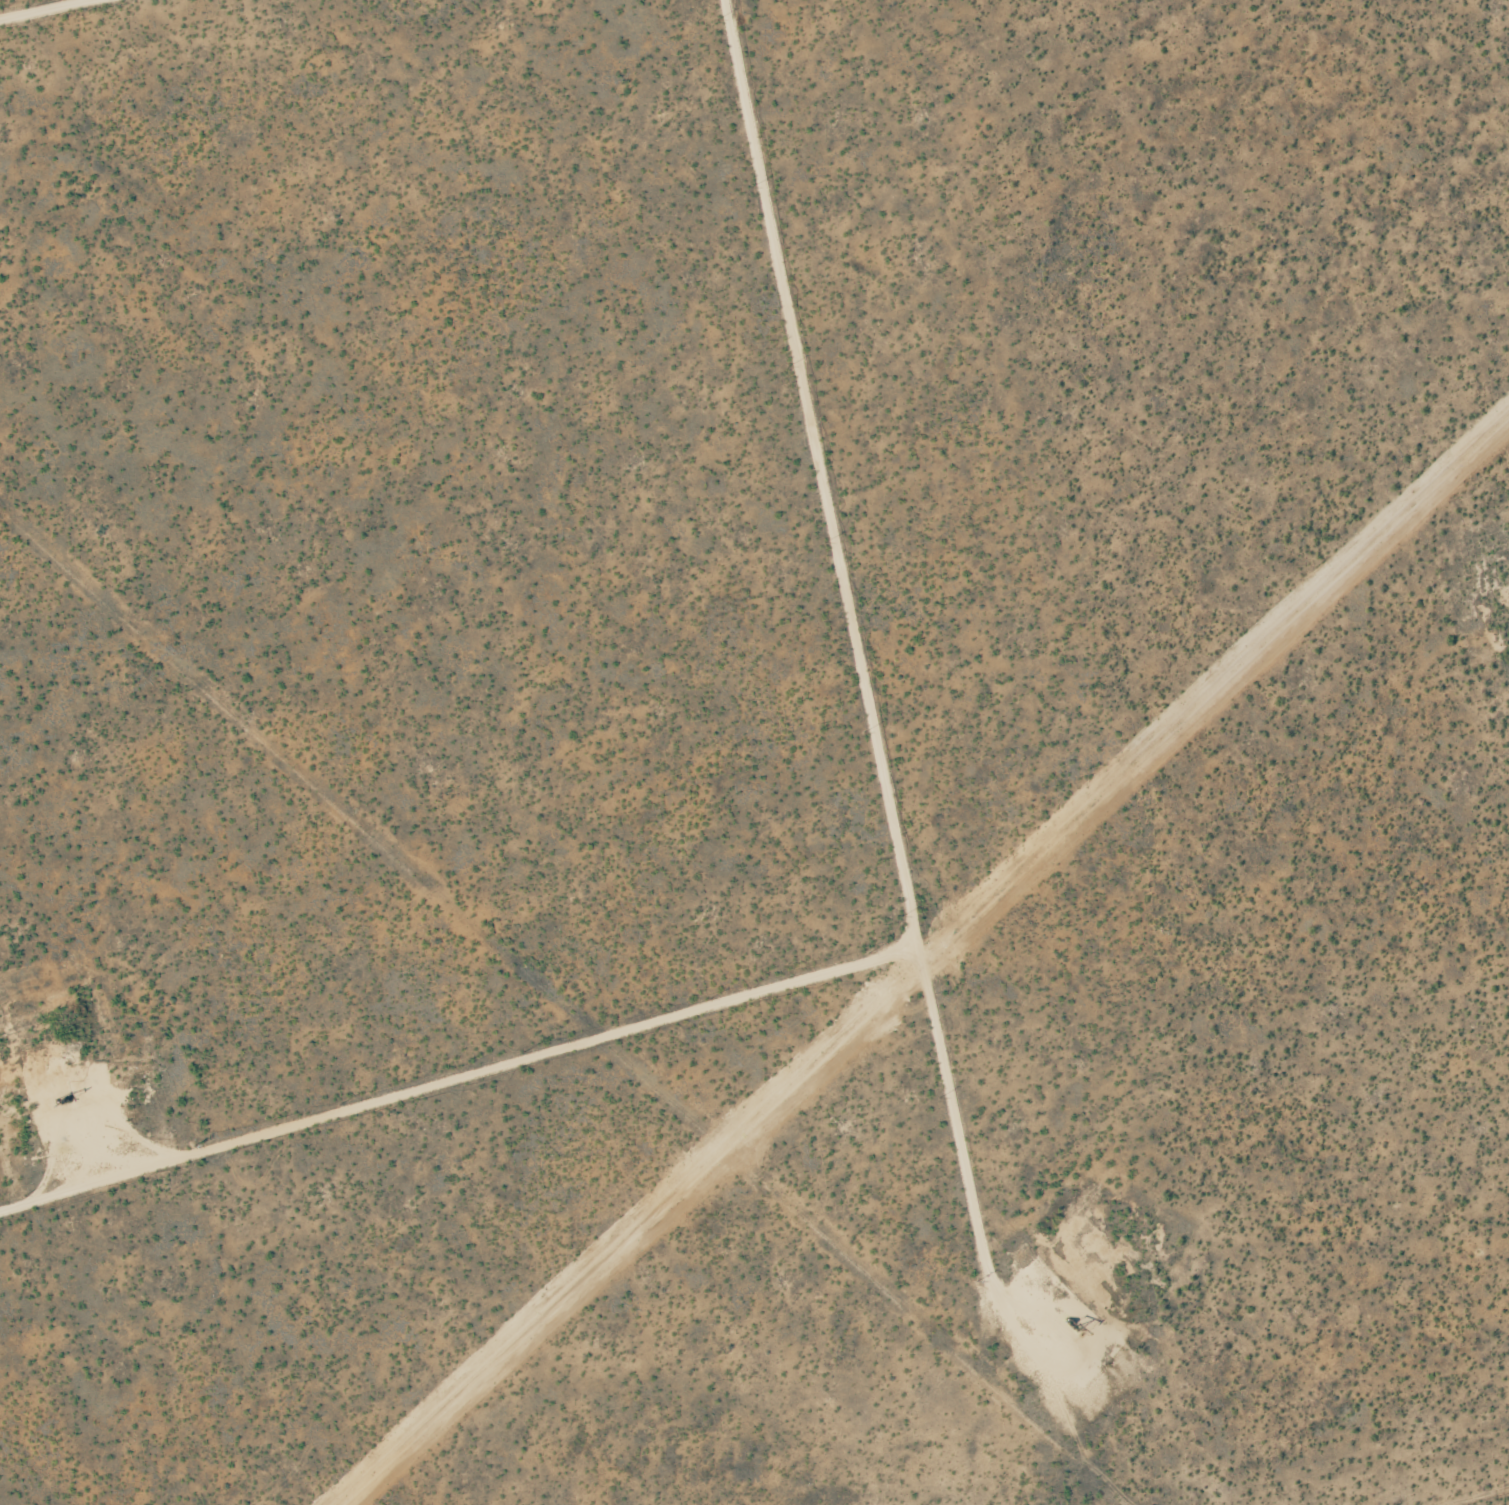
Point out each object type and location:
road: (1500, 1502)

